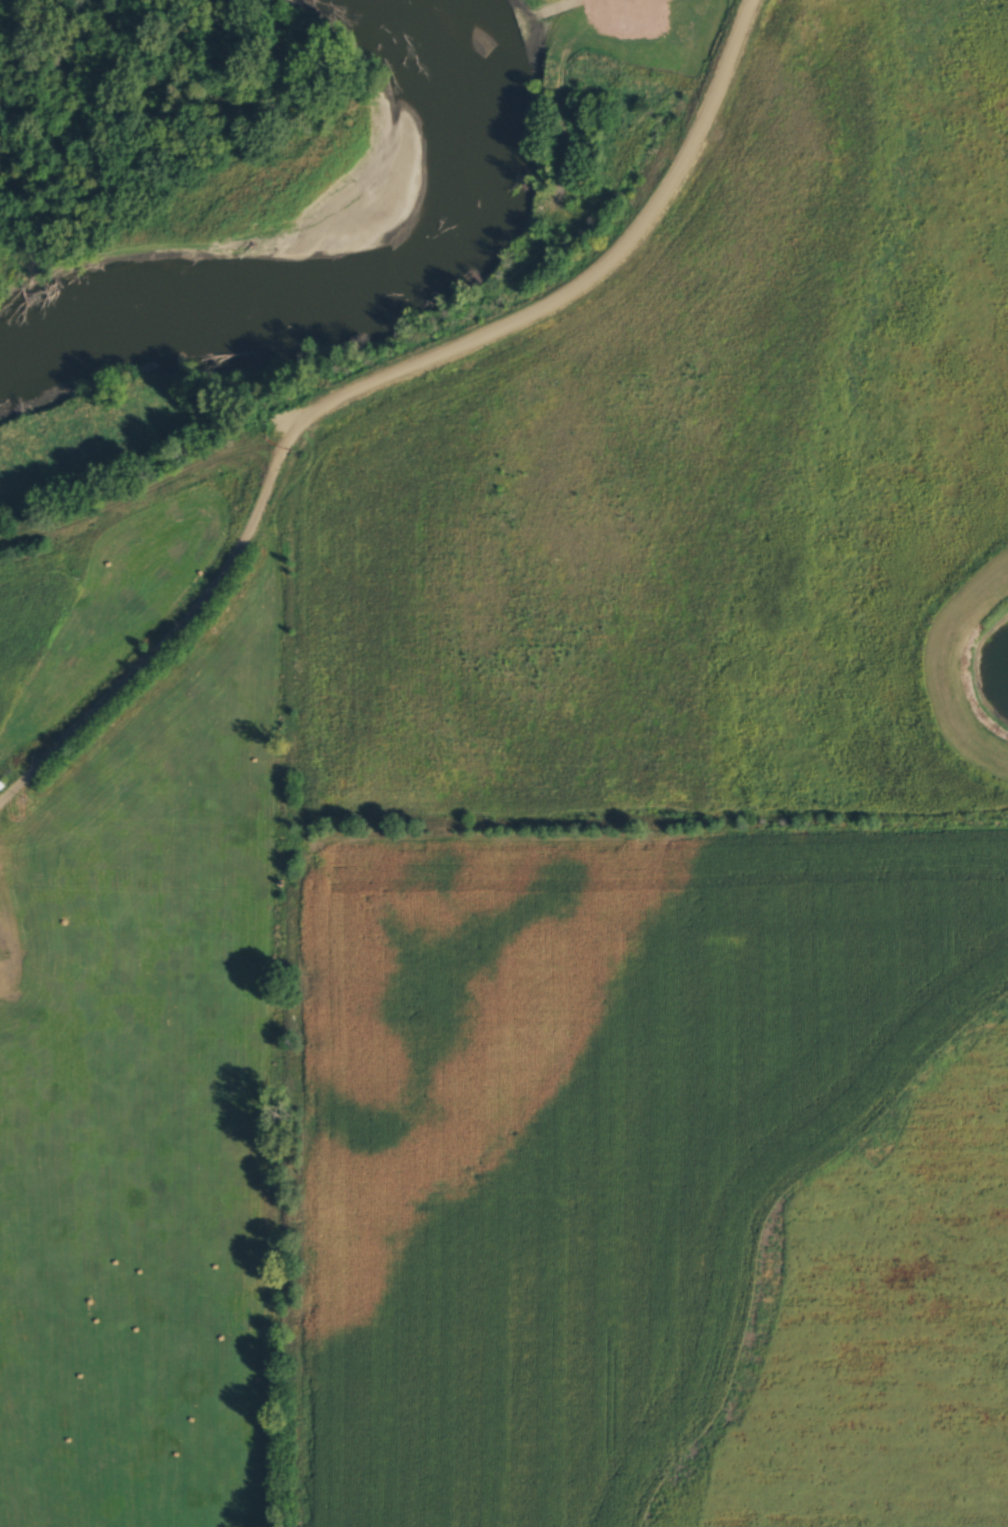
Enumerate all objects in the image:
river: (304, 235)
road: (373, 382)

